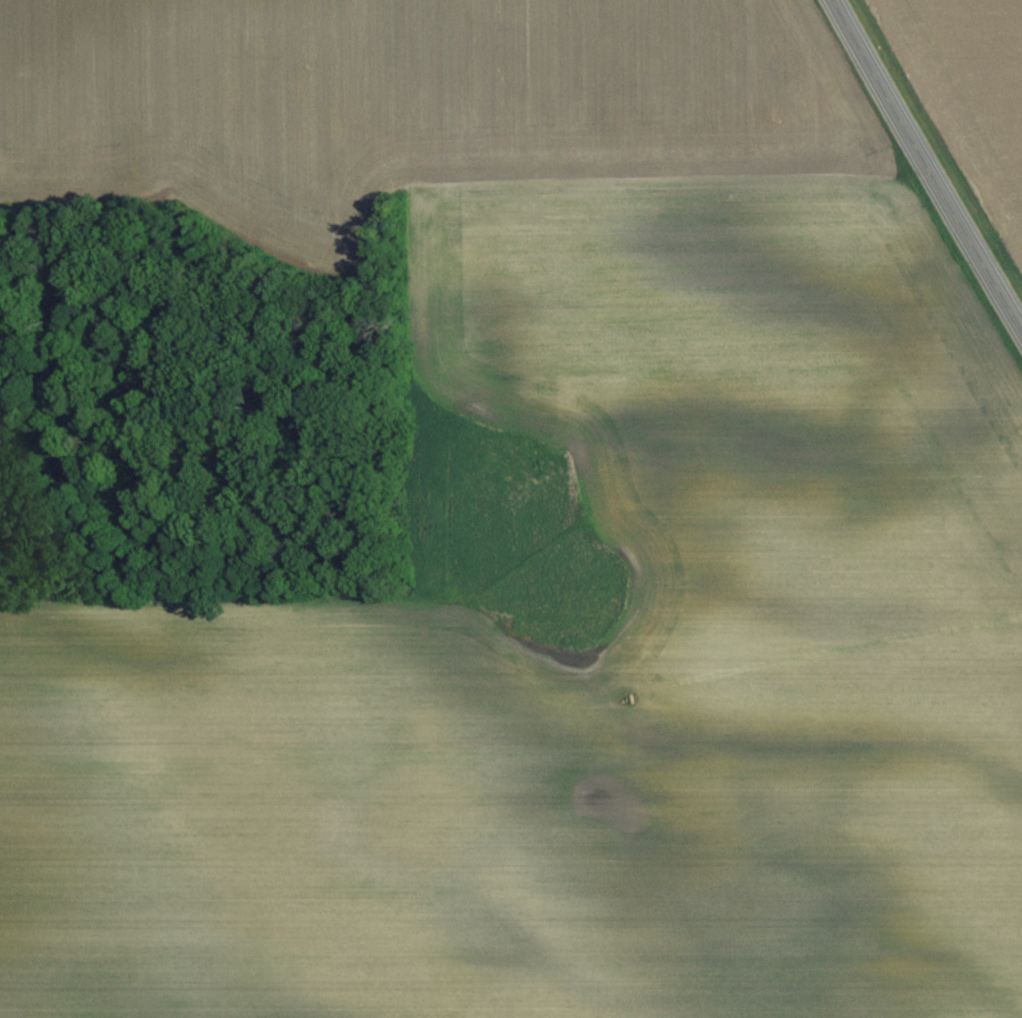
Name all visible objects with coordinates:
road: (927, 165)

